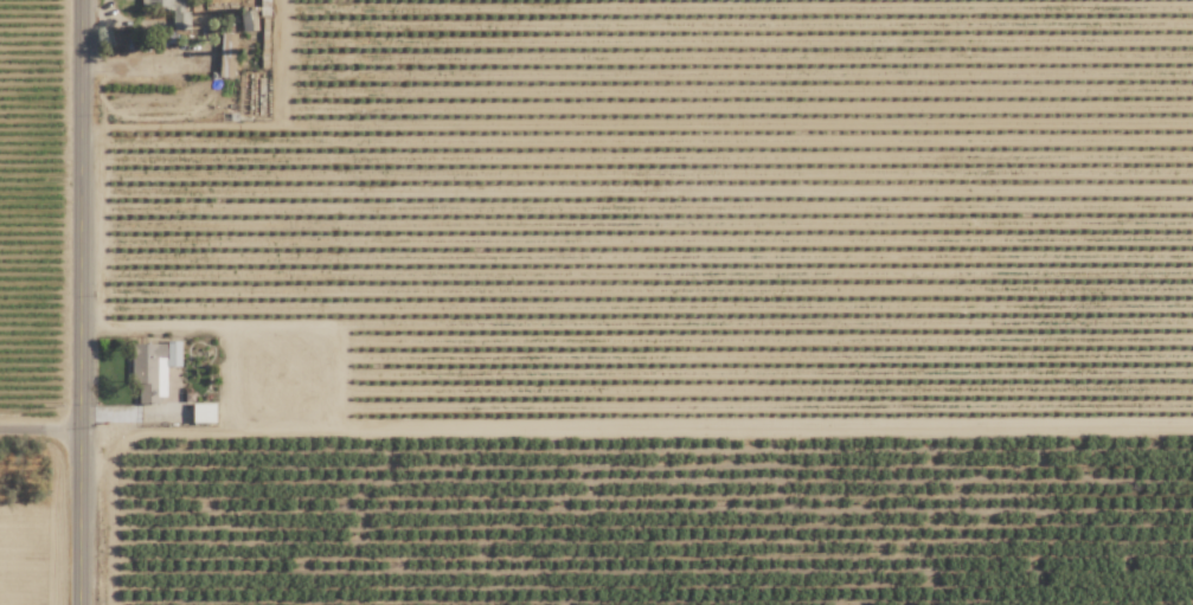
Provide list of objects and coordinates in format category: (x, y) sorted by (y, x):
building: (264, 7)
building: (179, 19)
building: (226, 56)
road: (90, 302)
building: (152, 369)
building: (203, 413)
road: (45, 439)

